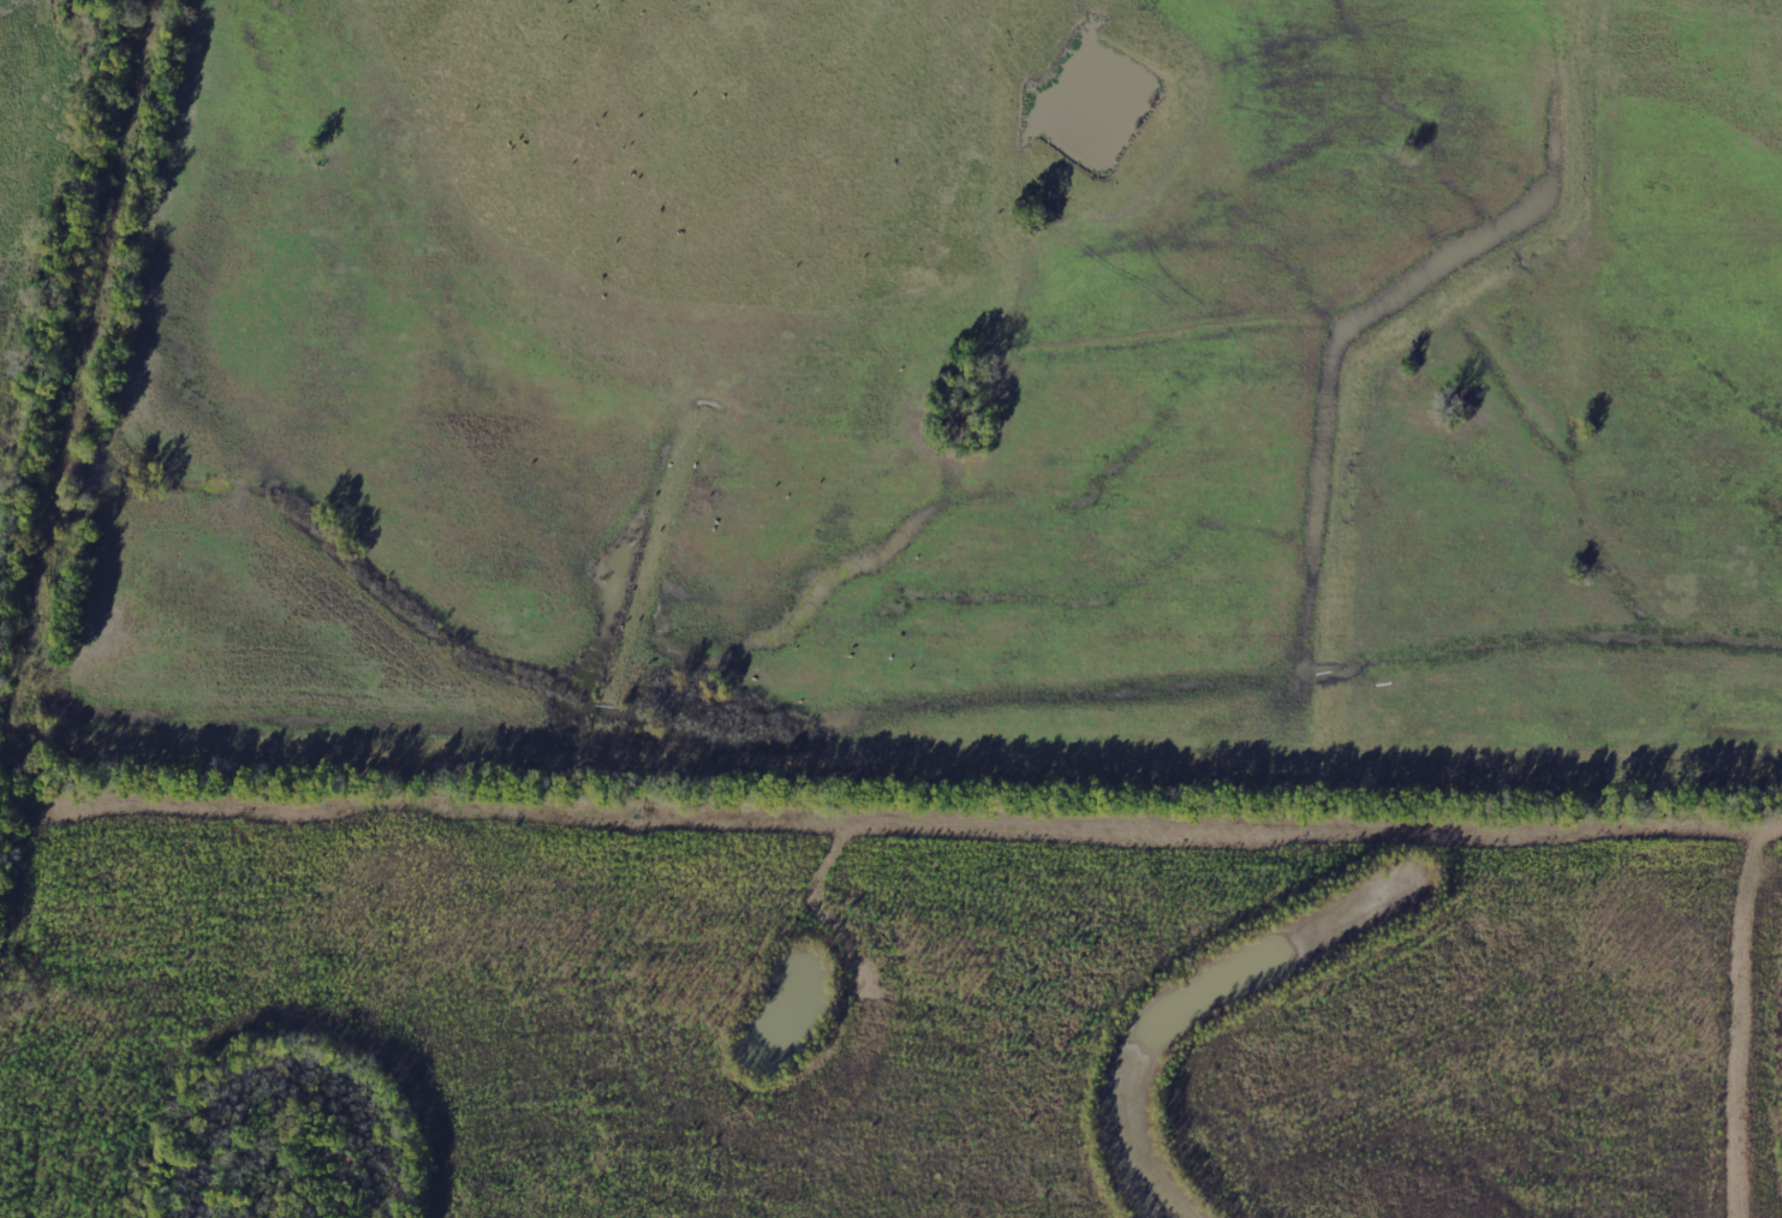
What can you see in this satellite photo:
road: (1757, 1020)

